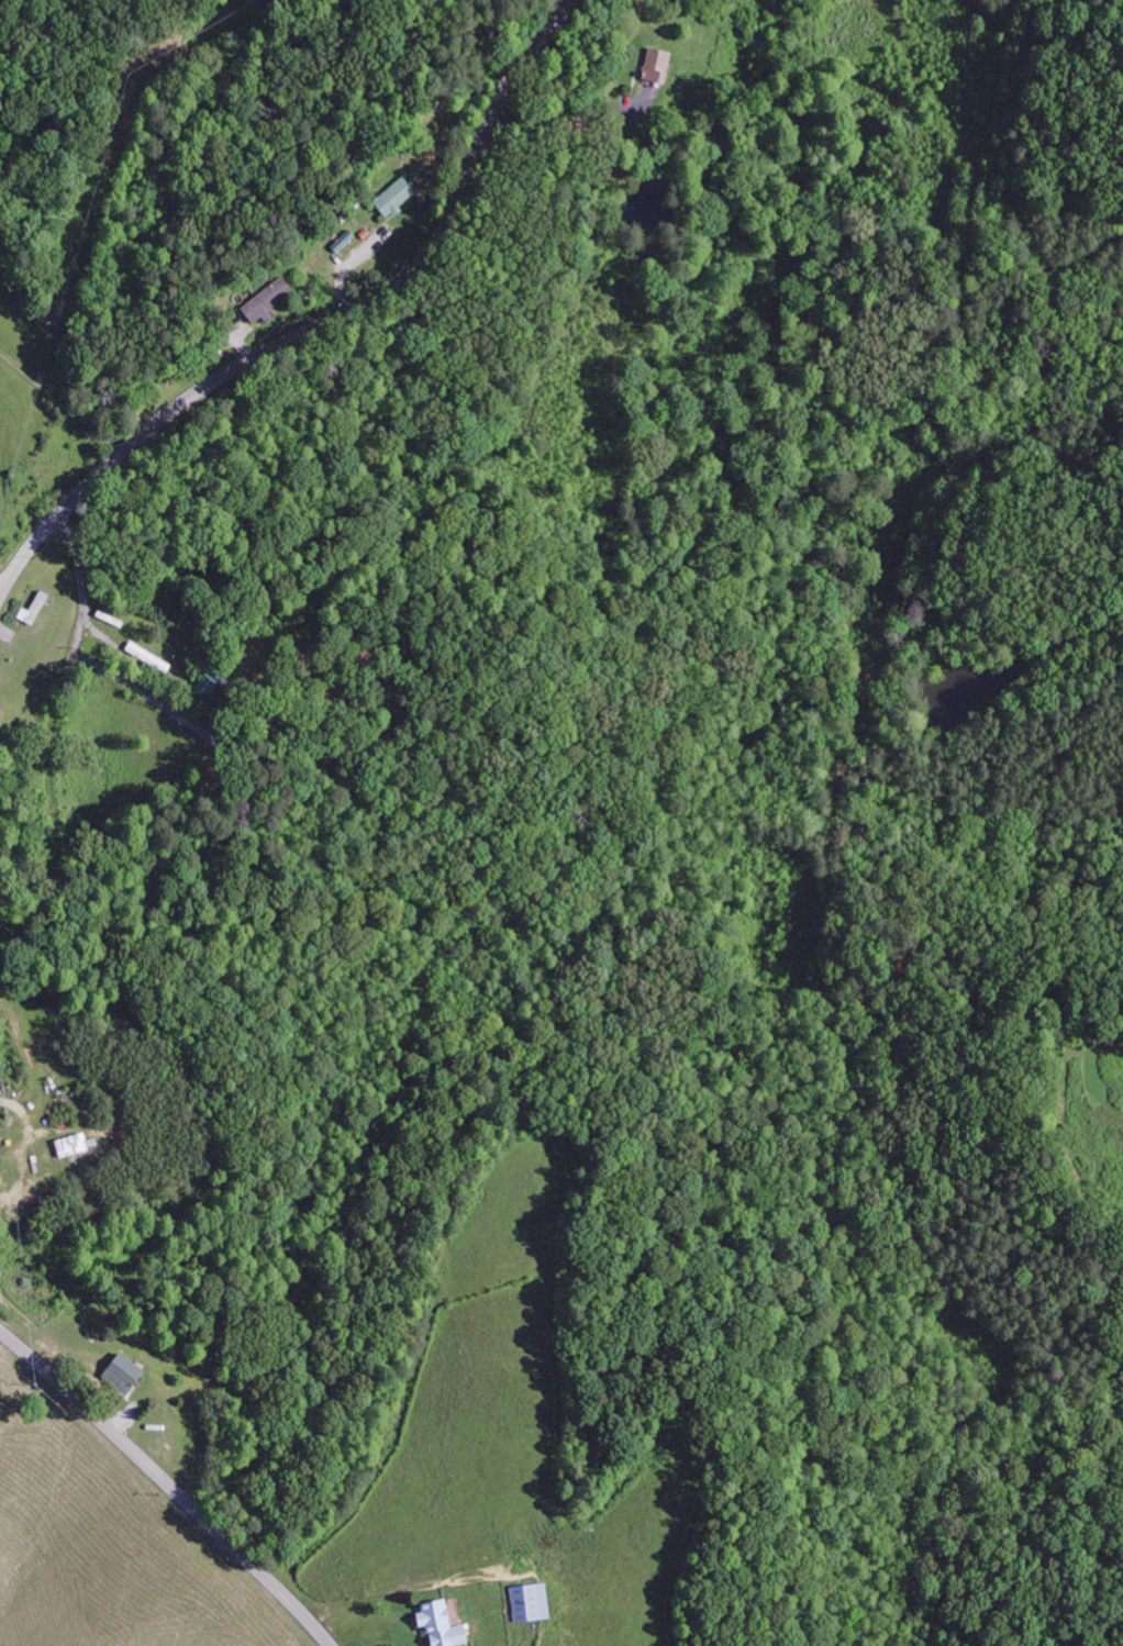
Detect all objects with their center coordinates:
building: (654, 66)
building: (393, 198)
building: (265, 302)
road: (319, 326)
building: (33, 608)
building: (69, 1145)
building: (120, 1372)
road: (169, 1483)
building: (527, 1602)
building: (440, 1624)

